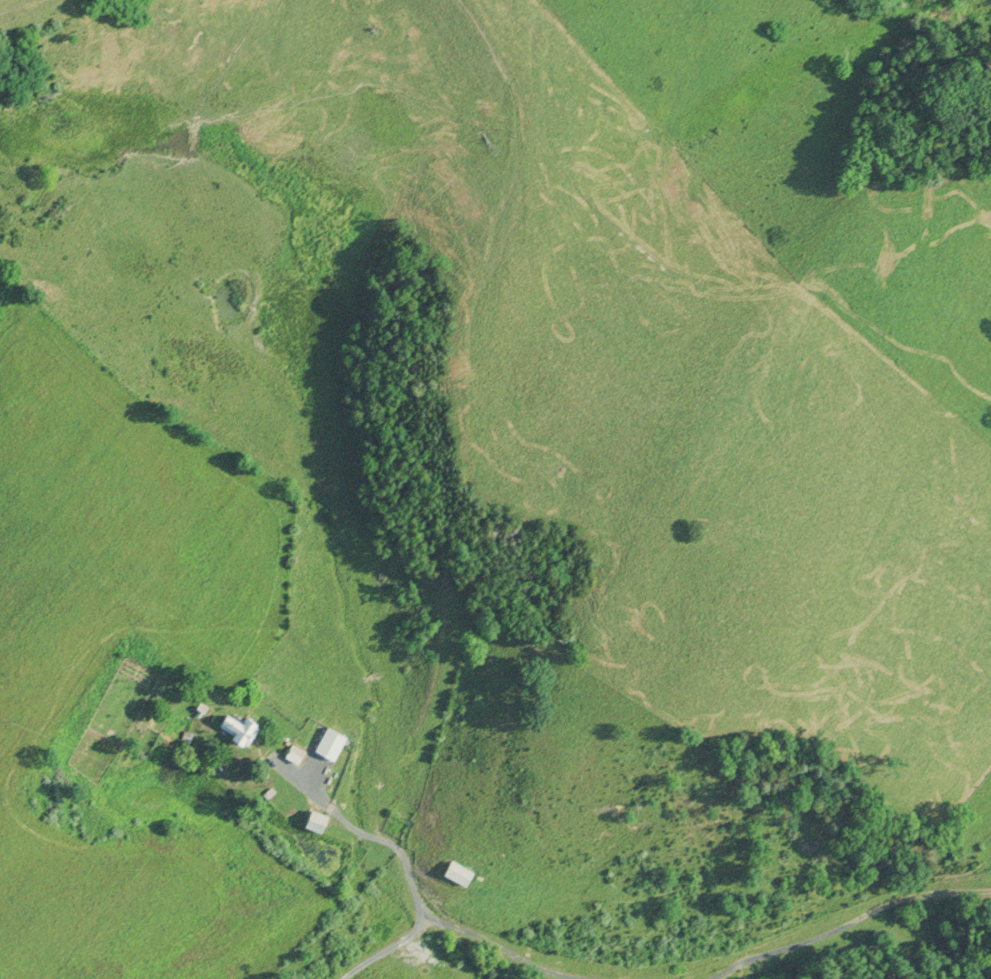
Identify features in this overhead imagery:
building: (231, 727)
building: (308, 820)
building: (451, 872)

